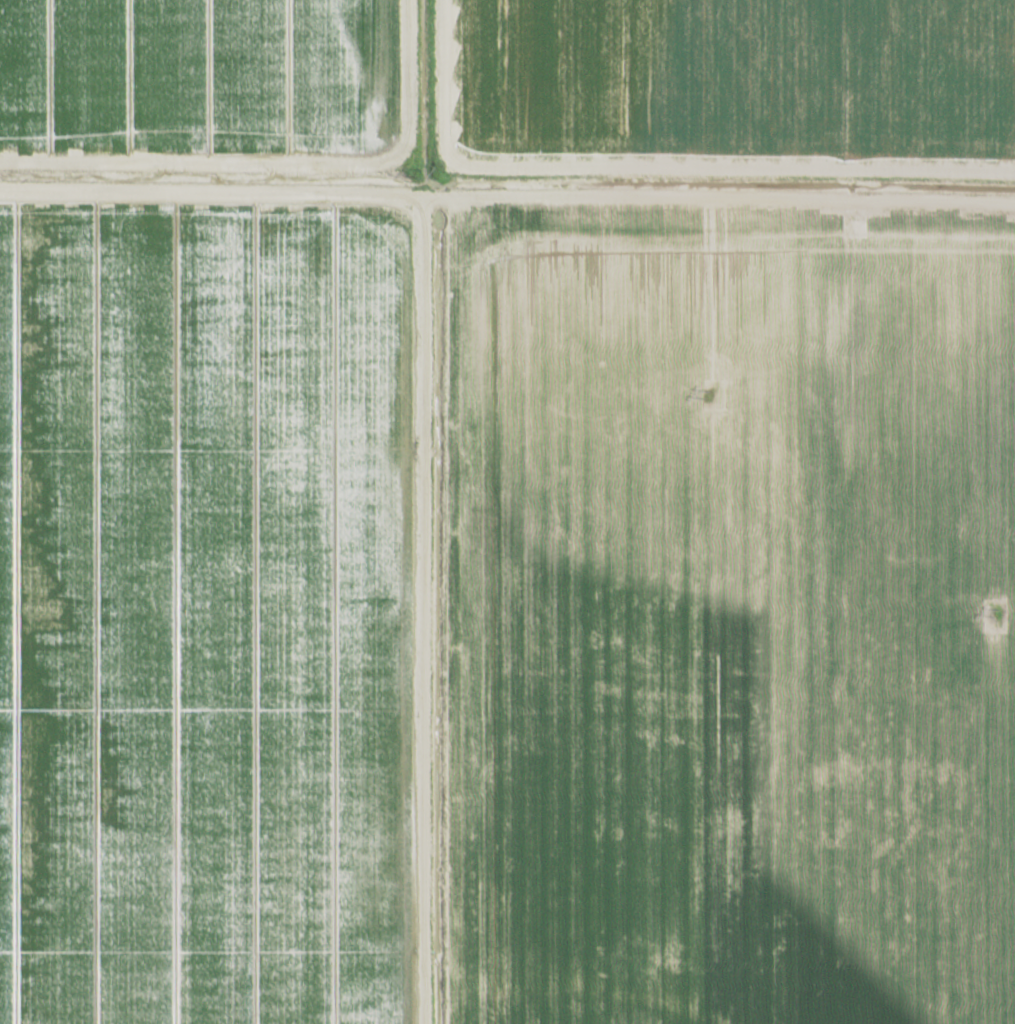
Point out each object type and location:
road: (507, 183)

